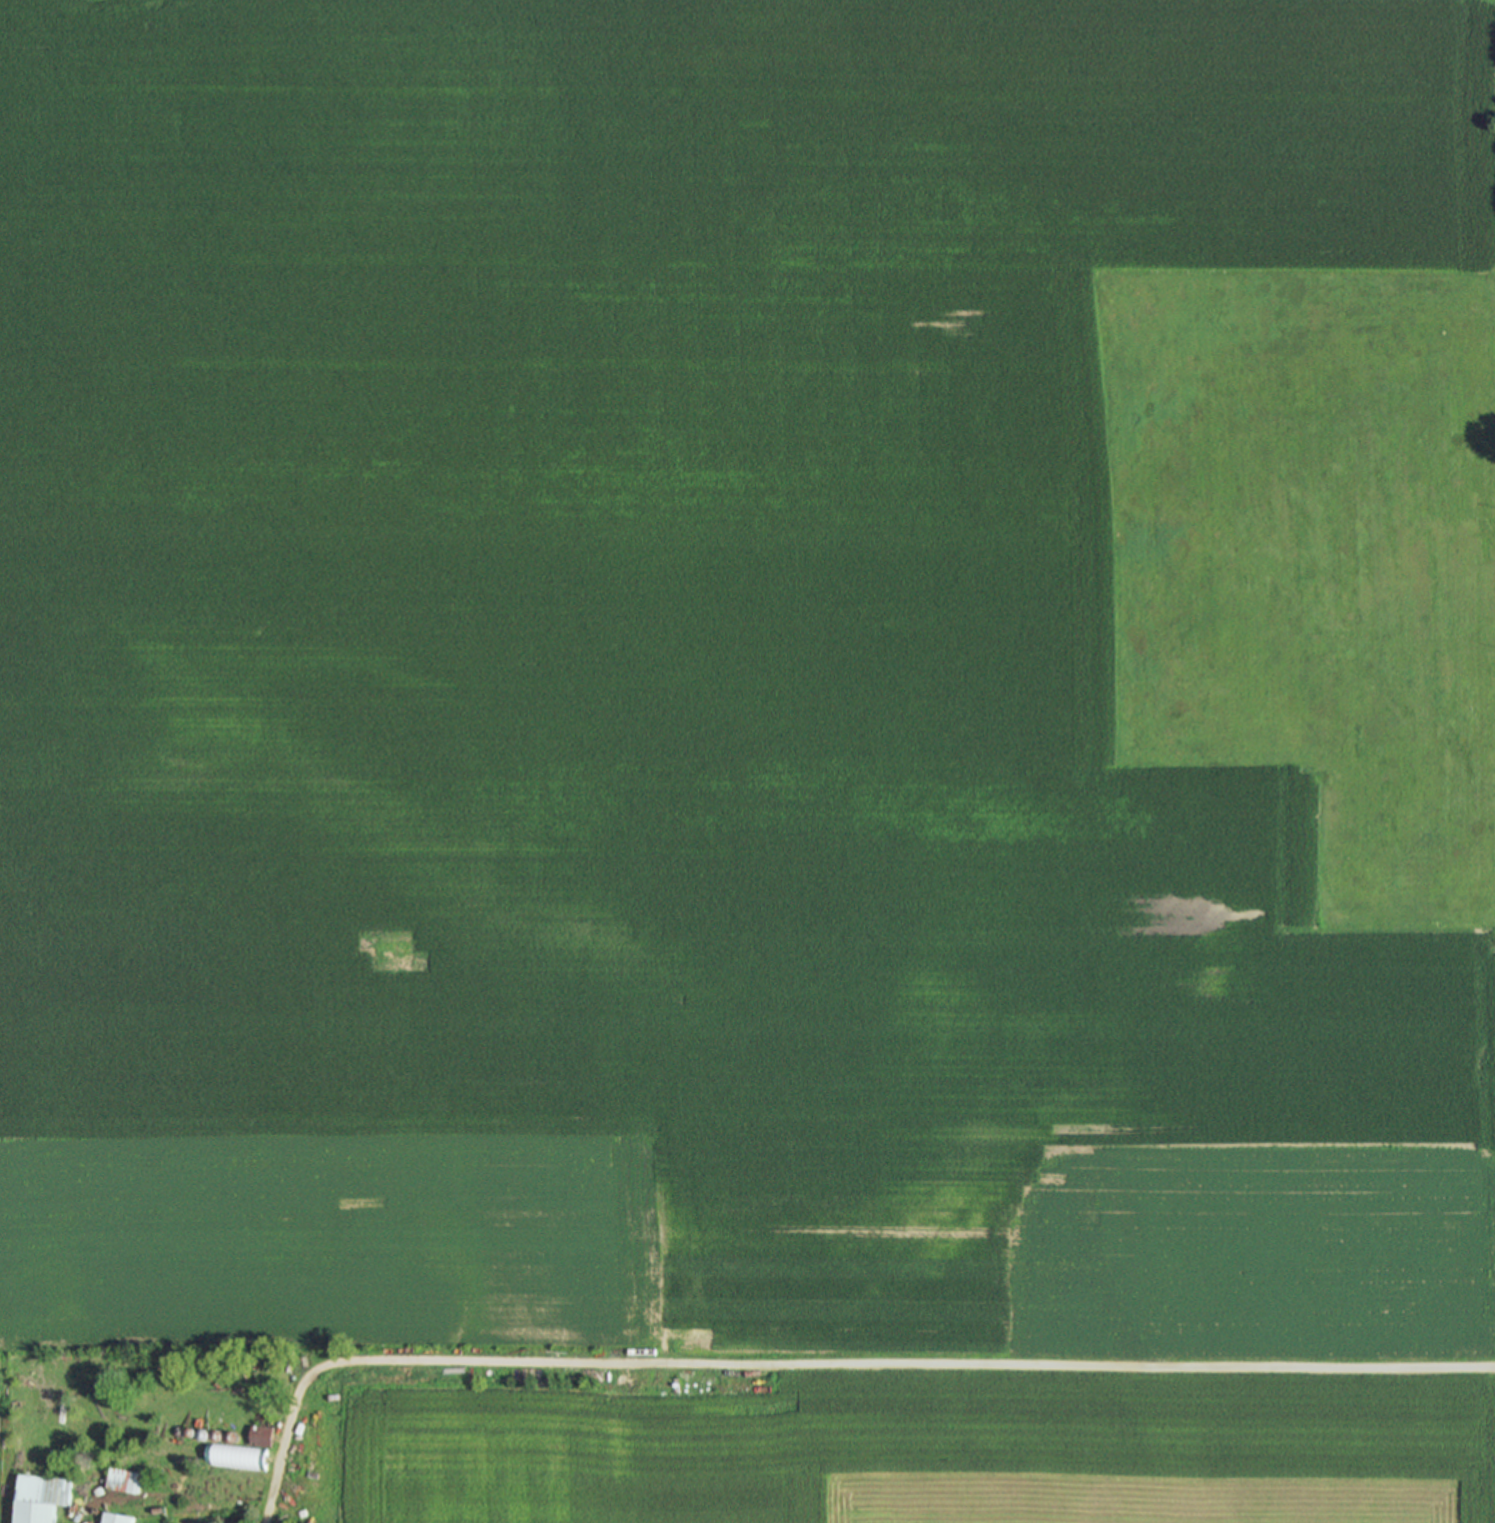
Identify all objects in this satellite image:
building: (255, 1436)
building: (120, 1481)
building: (36, 1497)
building: (111, 1518)

